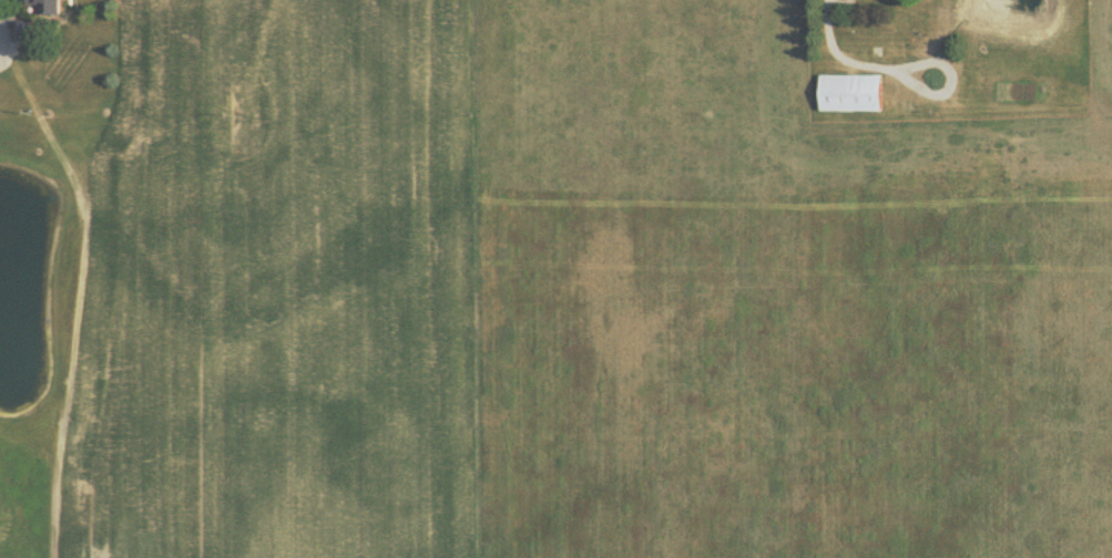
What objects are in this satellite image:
building: (848, 92)

